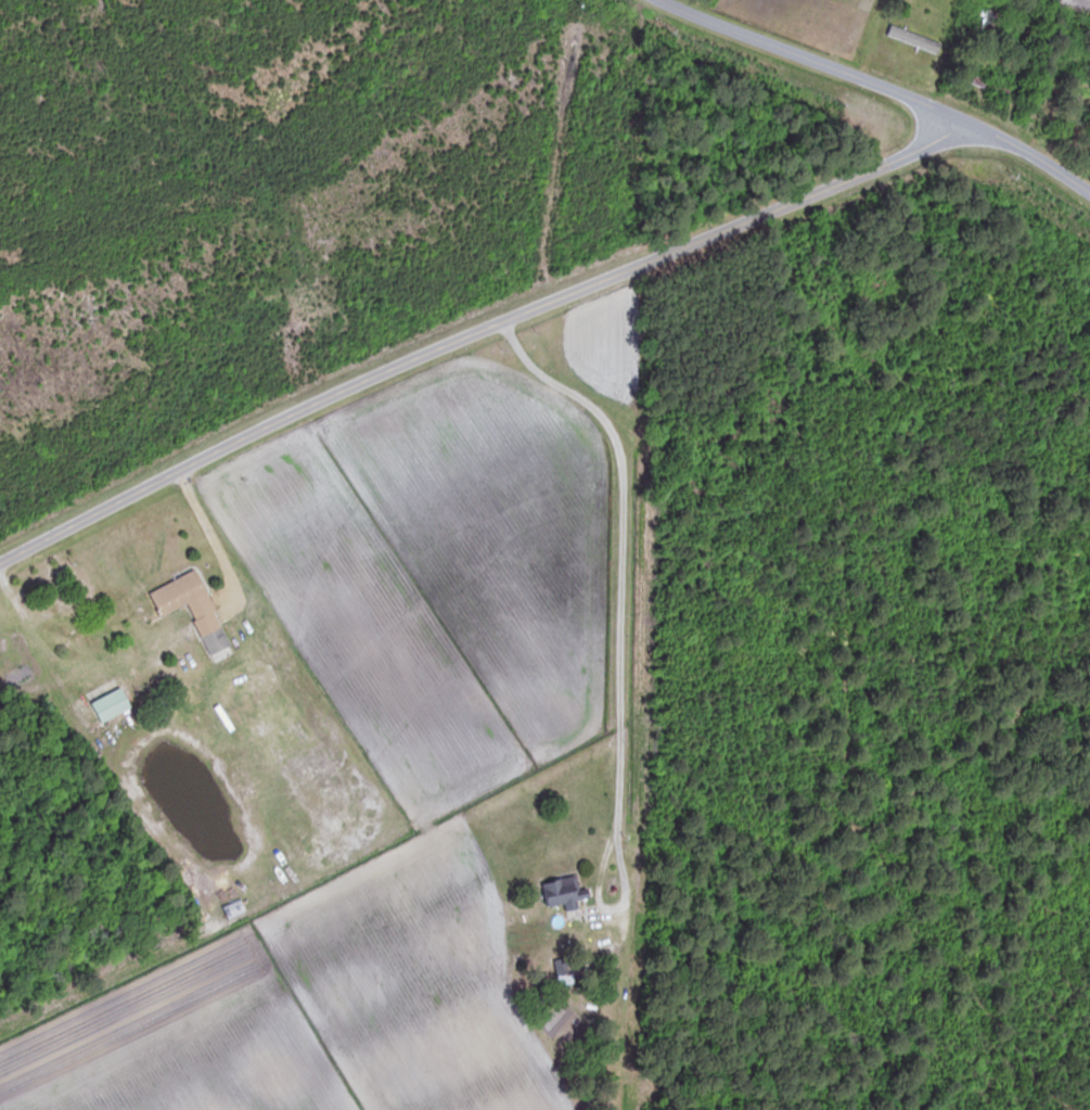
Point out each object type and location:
building: (908, 36)
road: (815, 58)
building: (1082, 87)
building: (993, 88)
road: (1029, 158)
road: (477, 334)
road: (213, 541)
building: (181, 594)
building: (217, 641)
road: (618, 691)
building: (556, 892)

